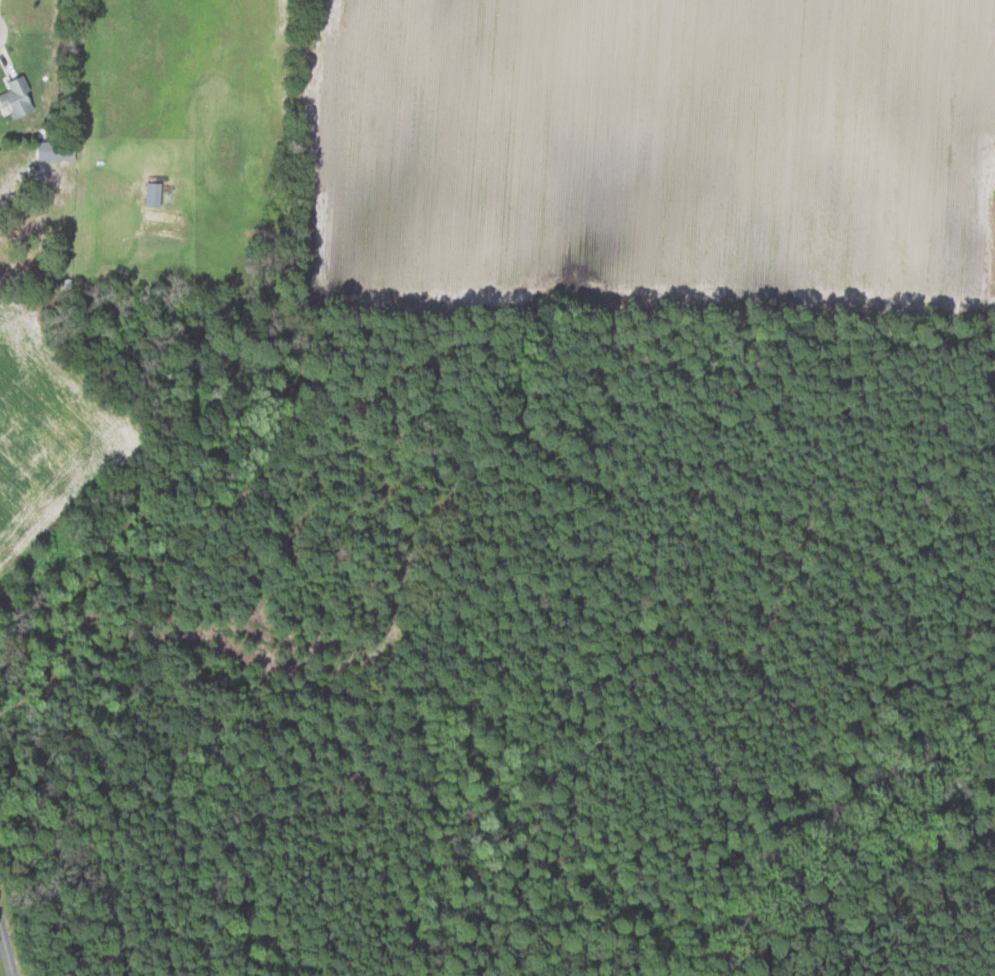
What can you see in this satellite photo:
building: (19, 96)
building: (57, 149)
building: (155, 192)
road: (4, 958)

